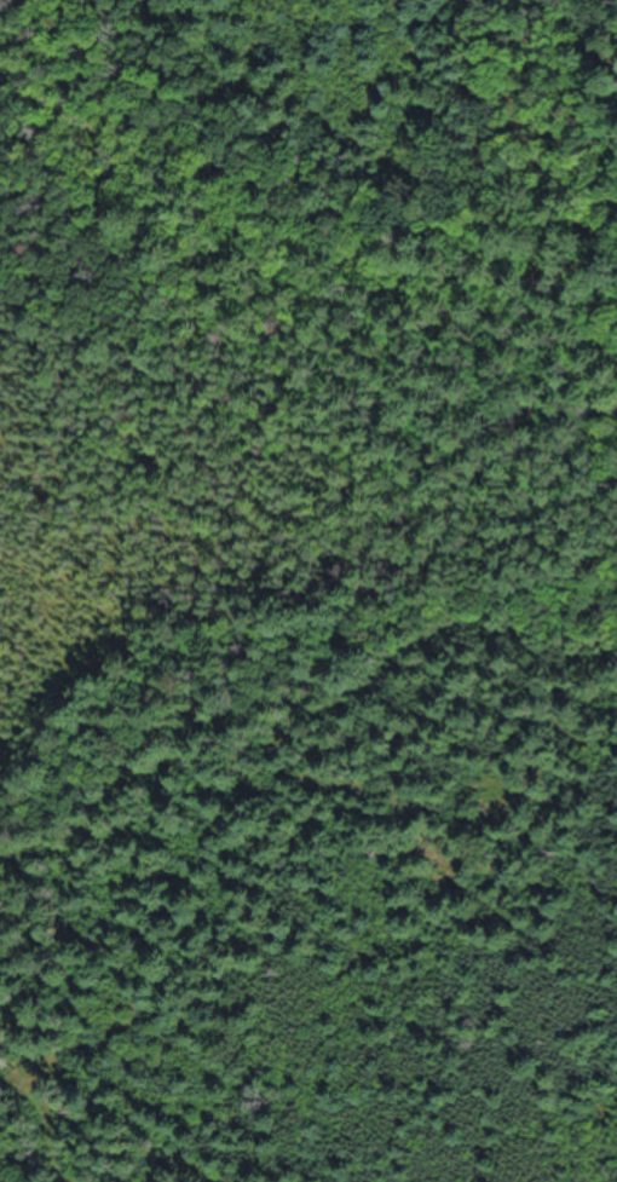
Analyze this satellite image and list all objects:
park: (308, 590)

